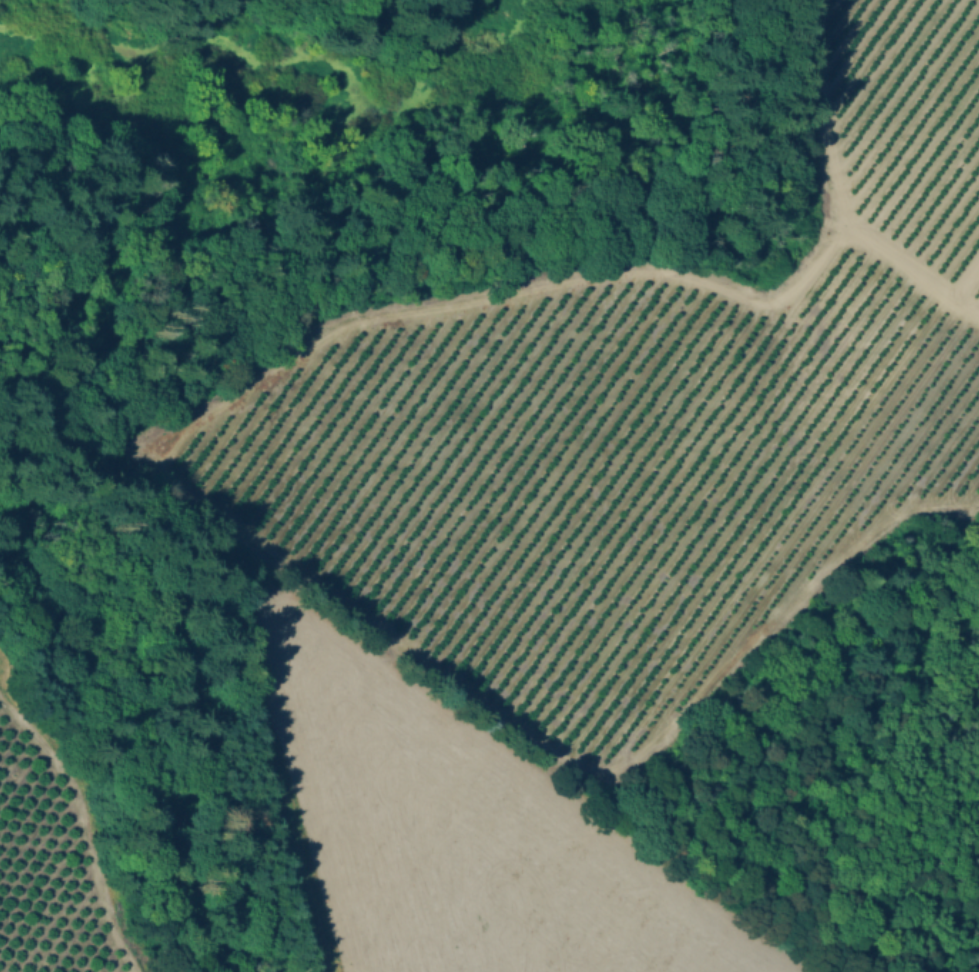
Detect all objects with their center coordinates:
crop: (906, 161)

